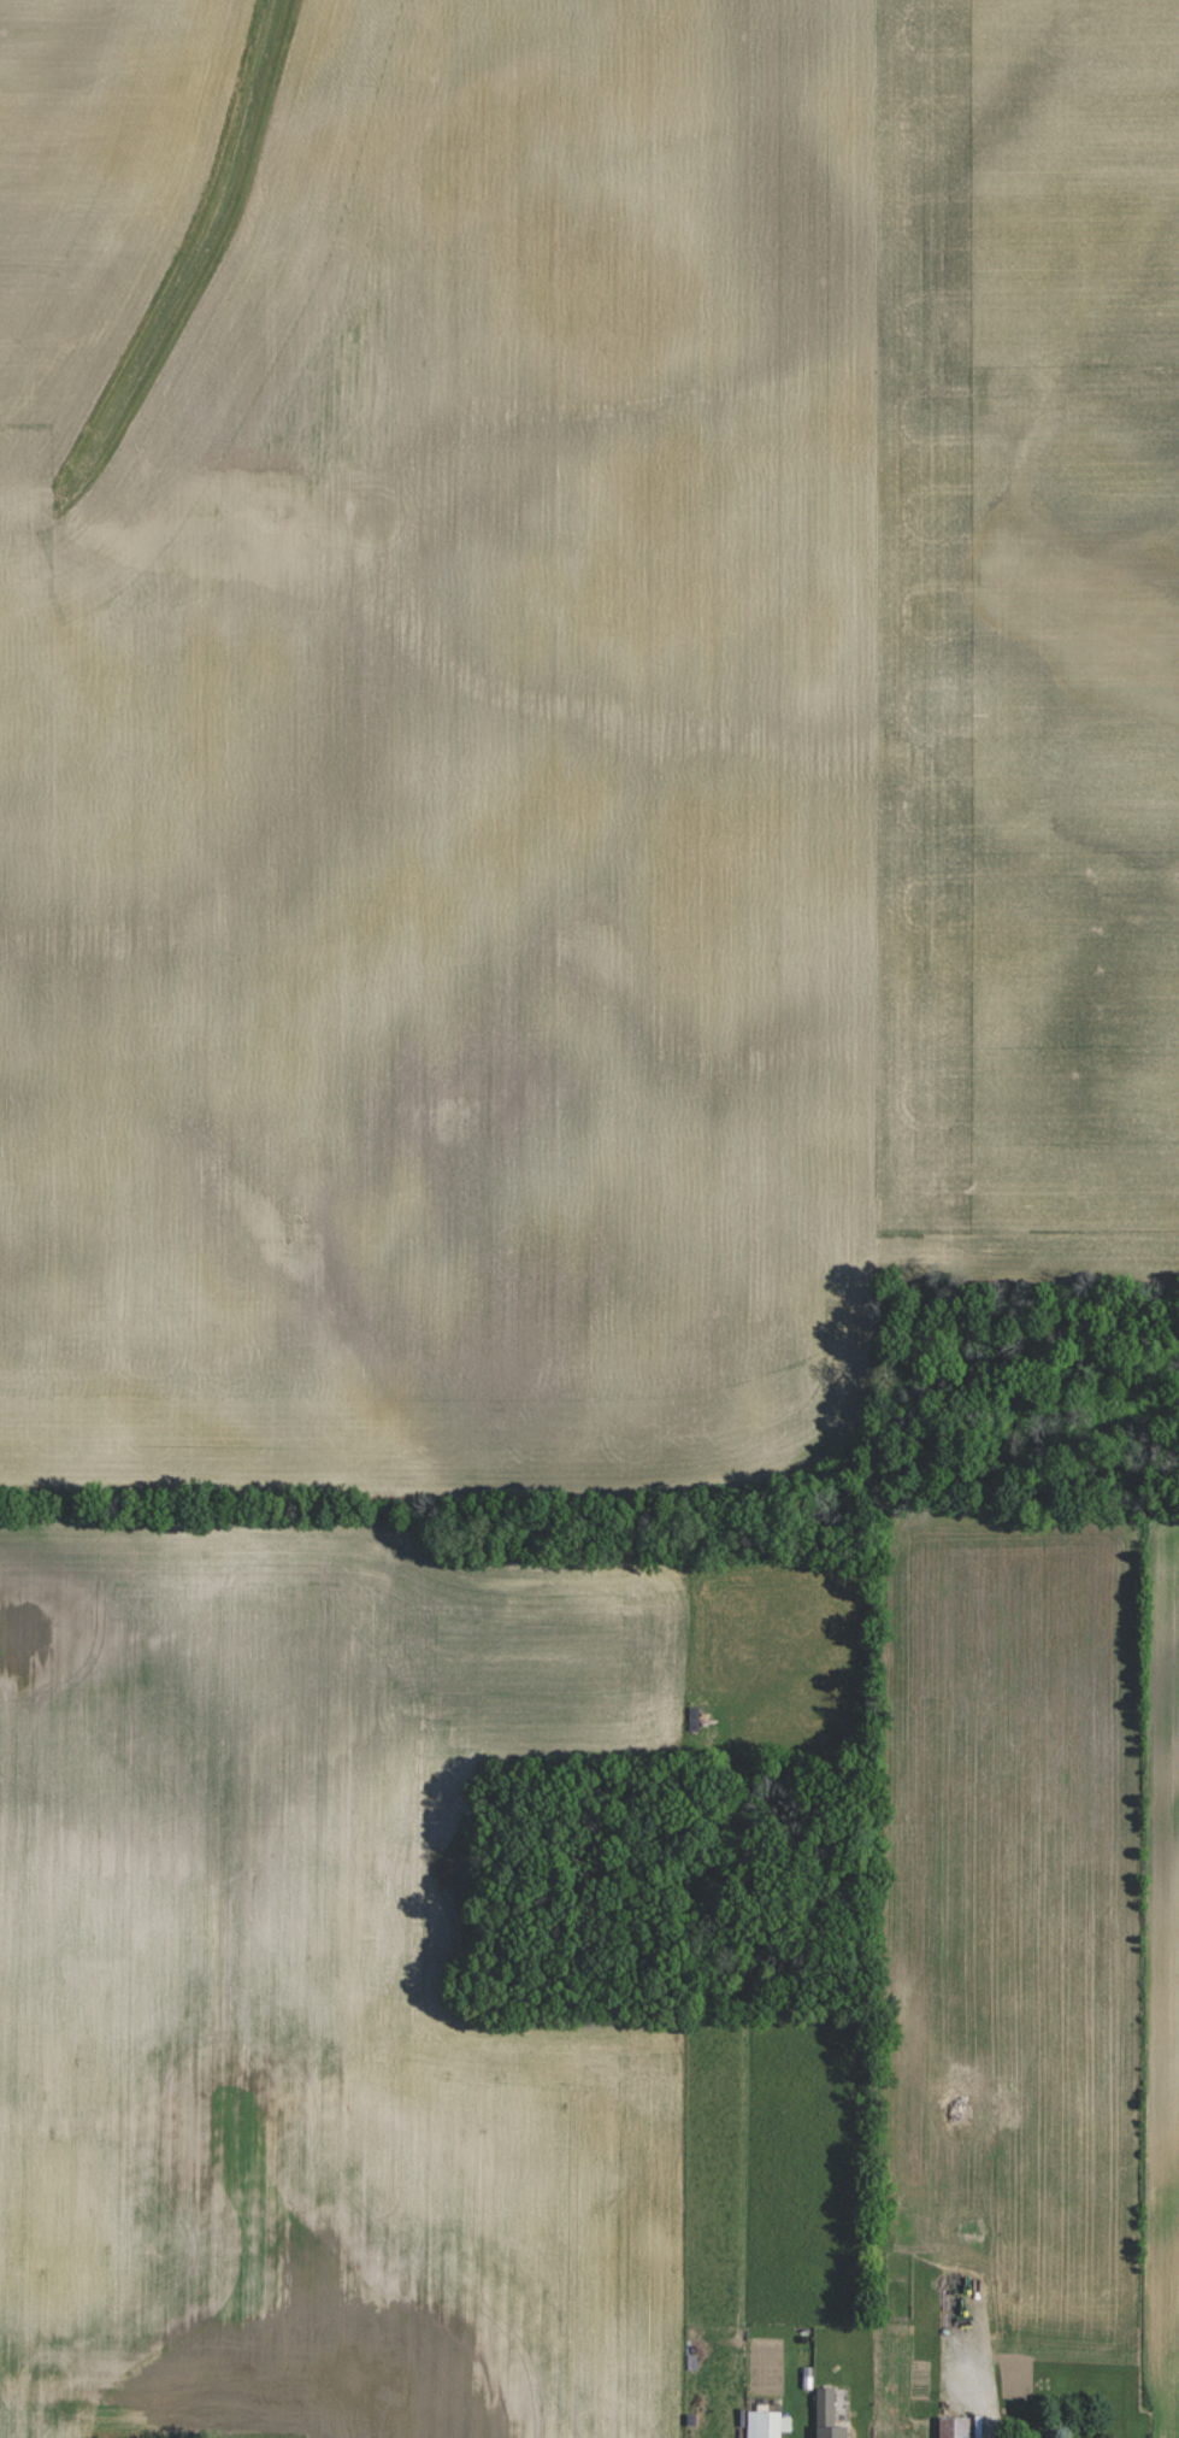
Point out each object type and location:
building: (827, 2415)
building: (767, 2424)
building: (954, 2426)

